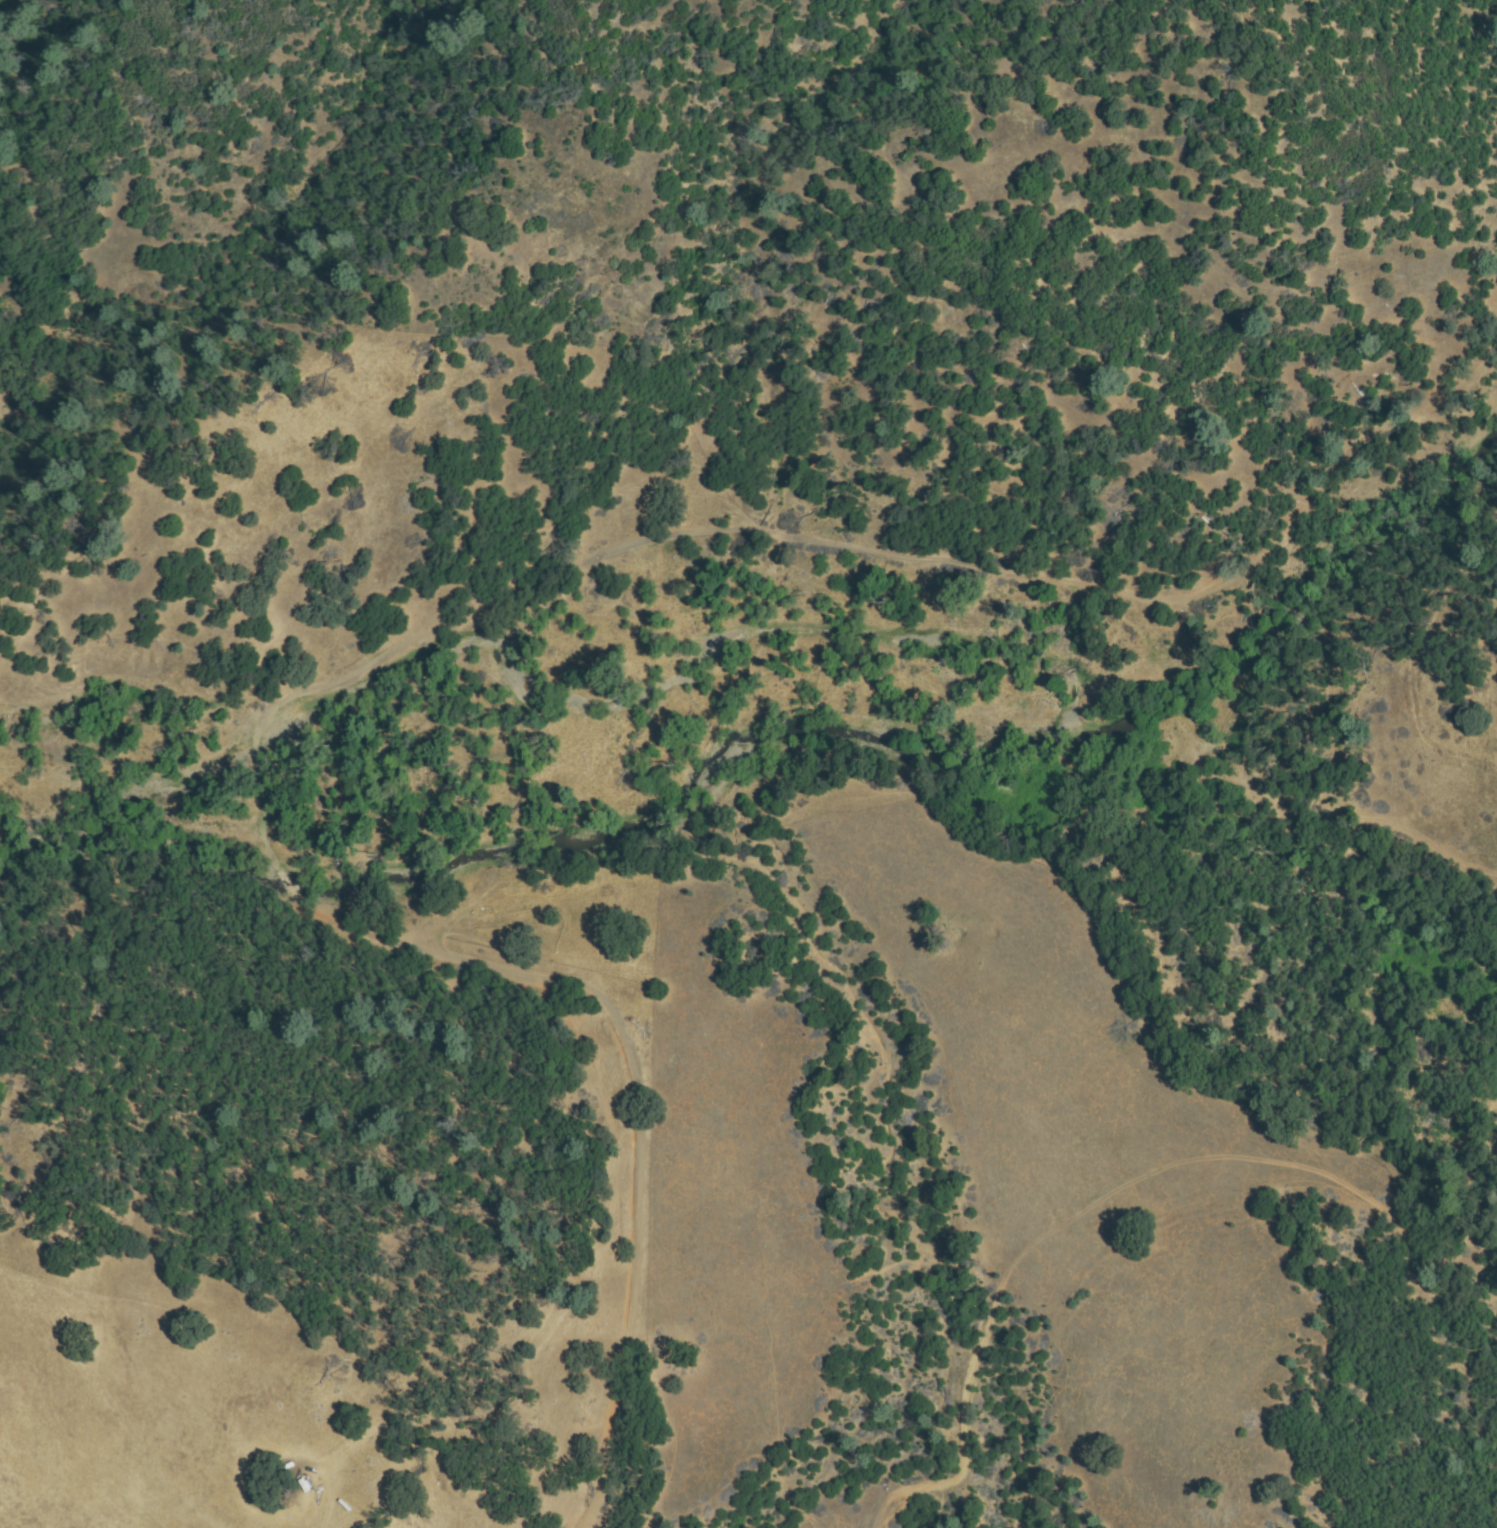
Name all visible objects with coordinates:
road: (409, 641)

